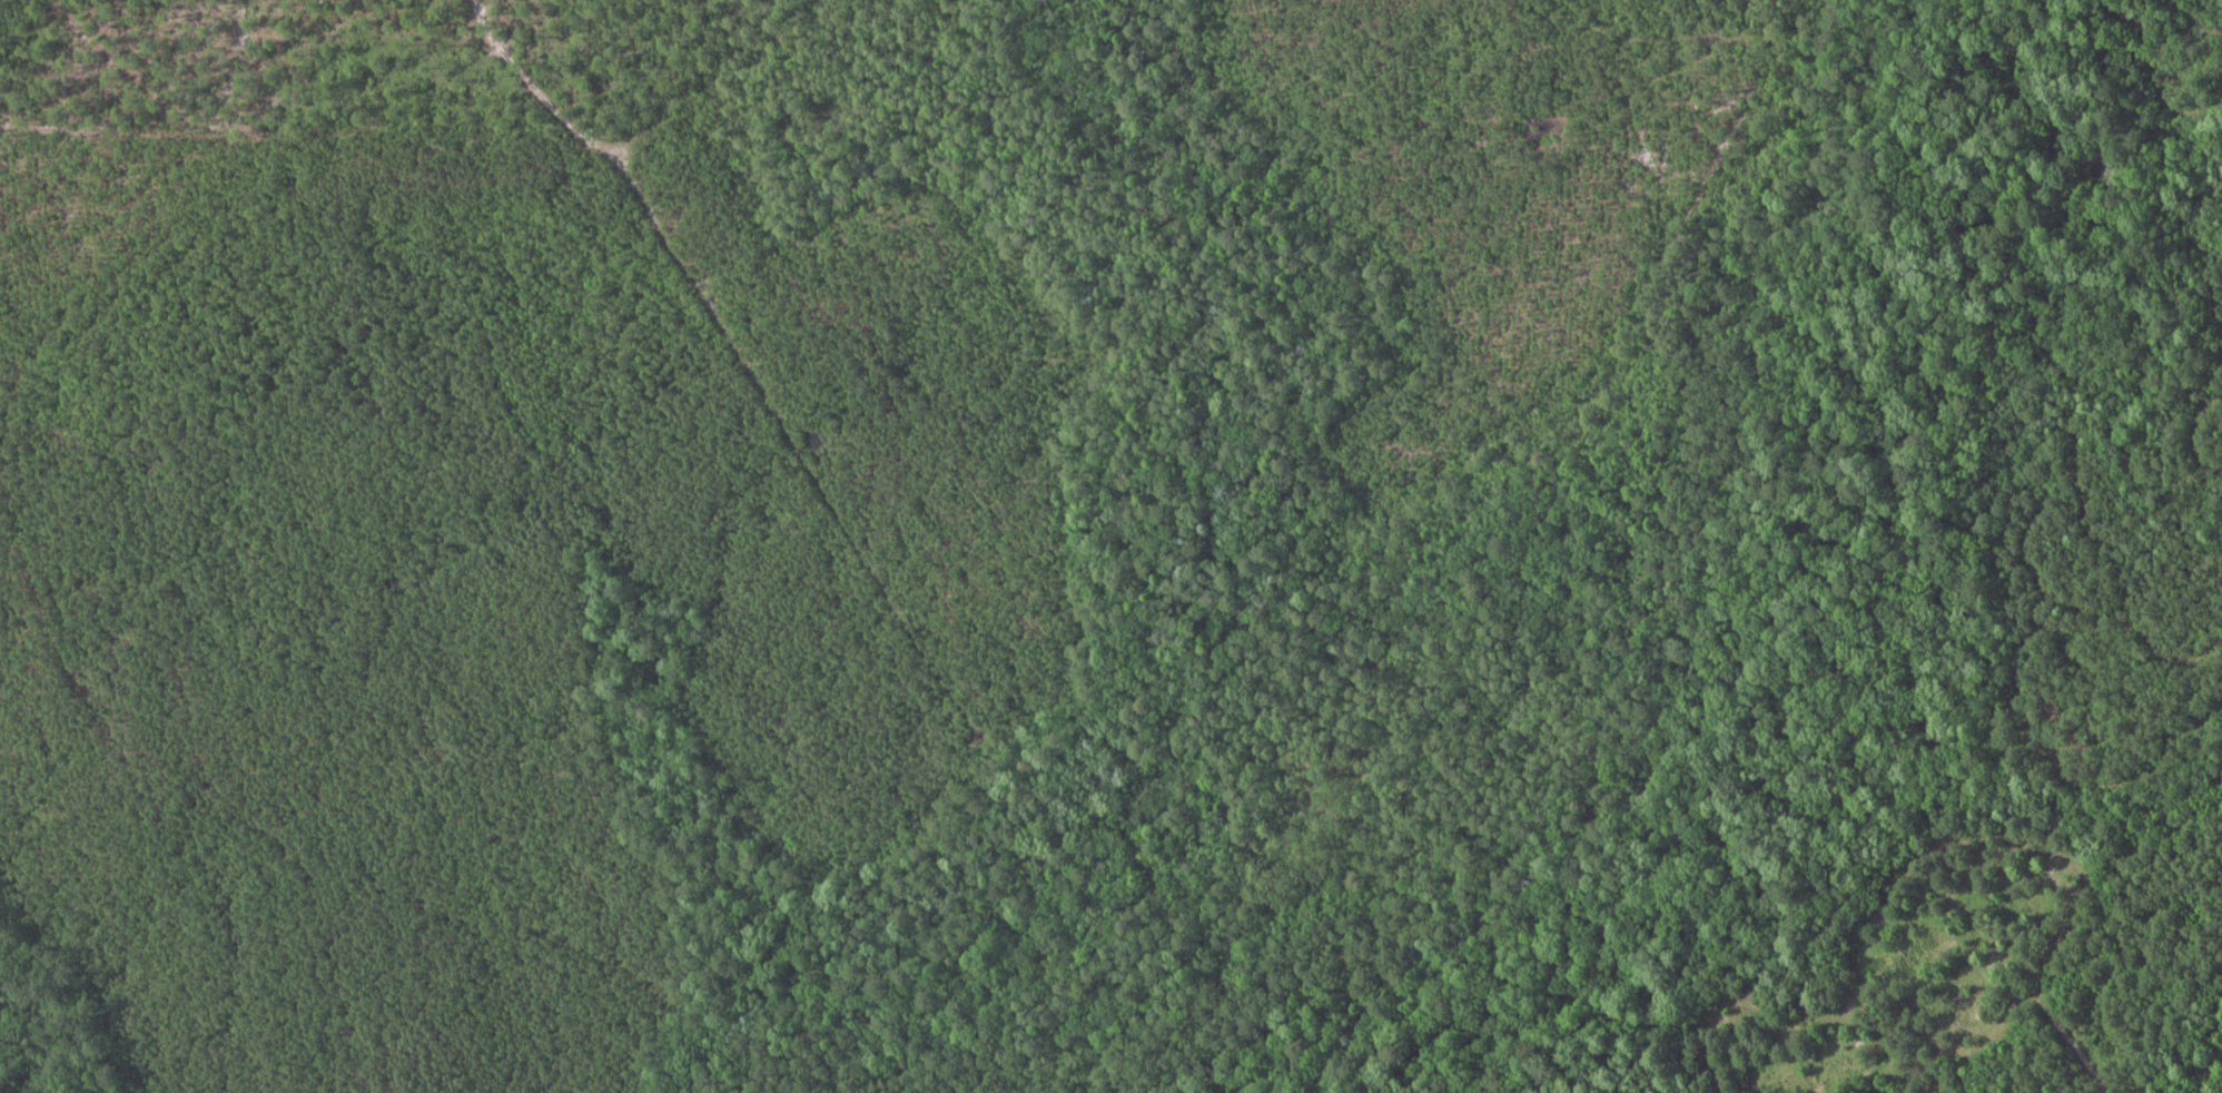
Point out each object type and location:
road: (741, 349)

